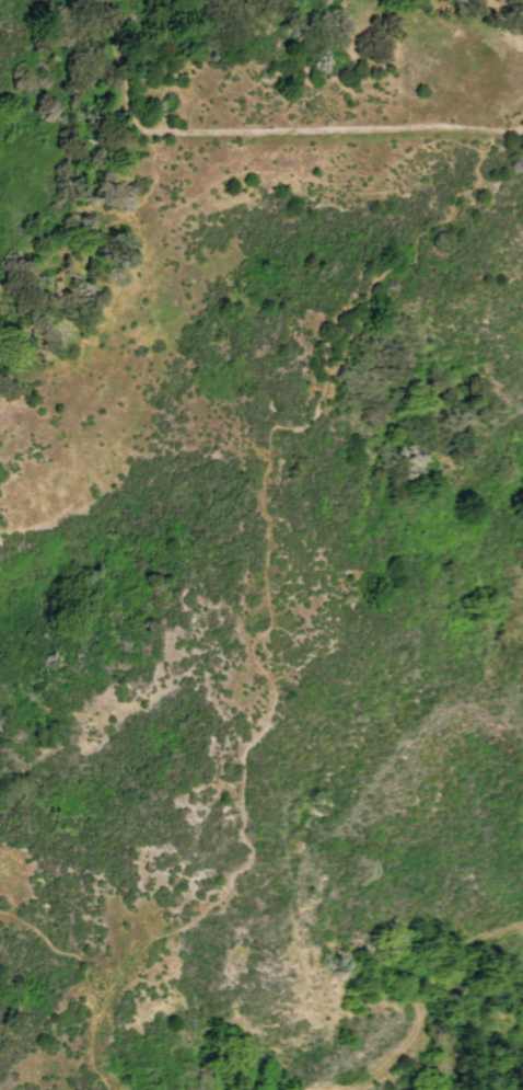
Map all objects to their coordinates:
road: (264, 127)
road: (249, 564)
road: (67, 955)
road: (420, 1009)
road: (93, 1060)

